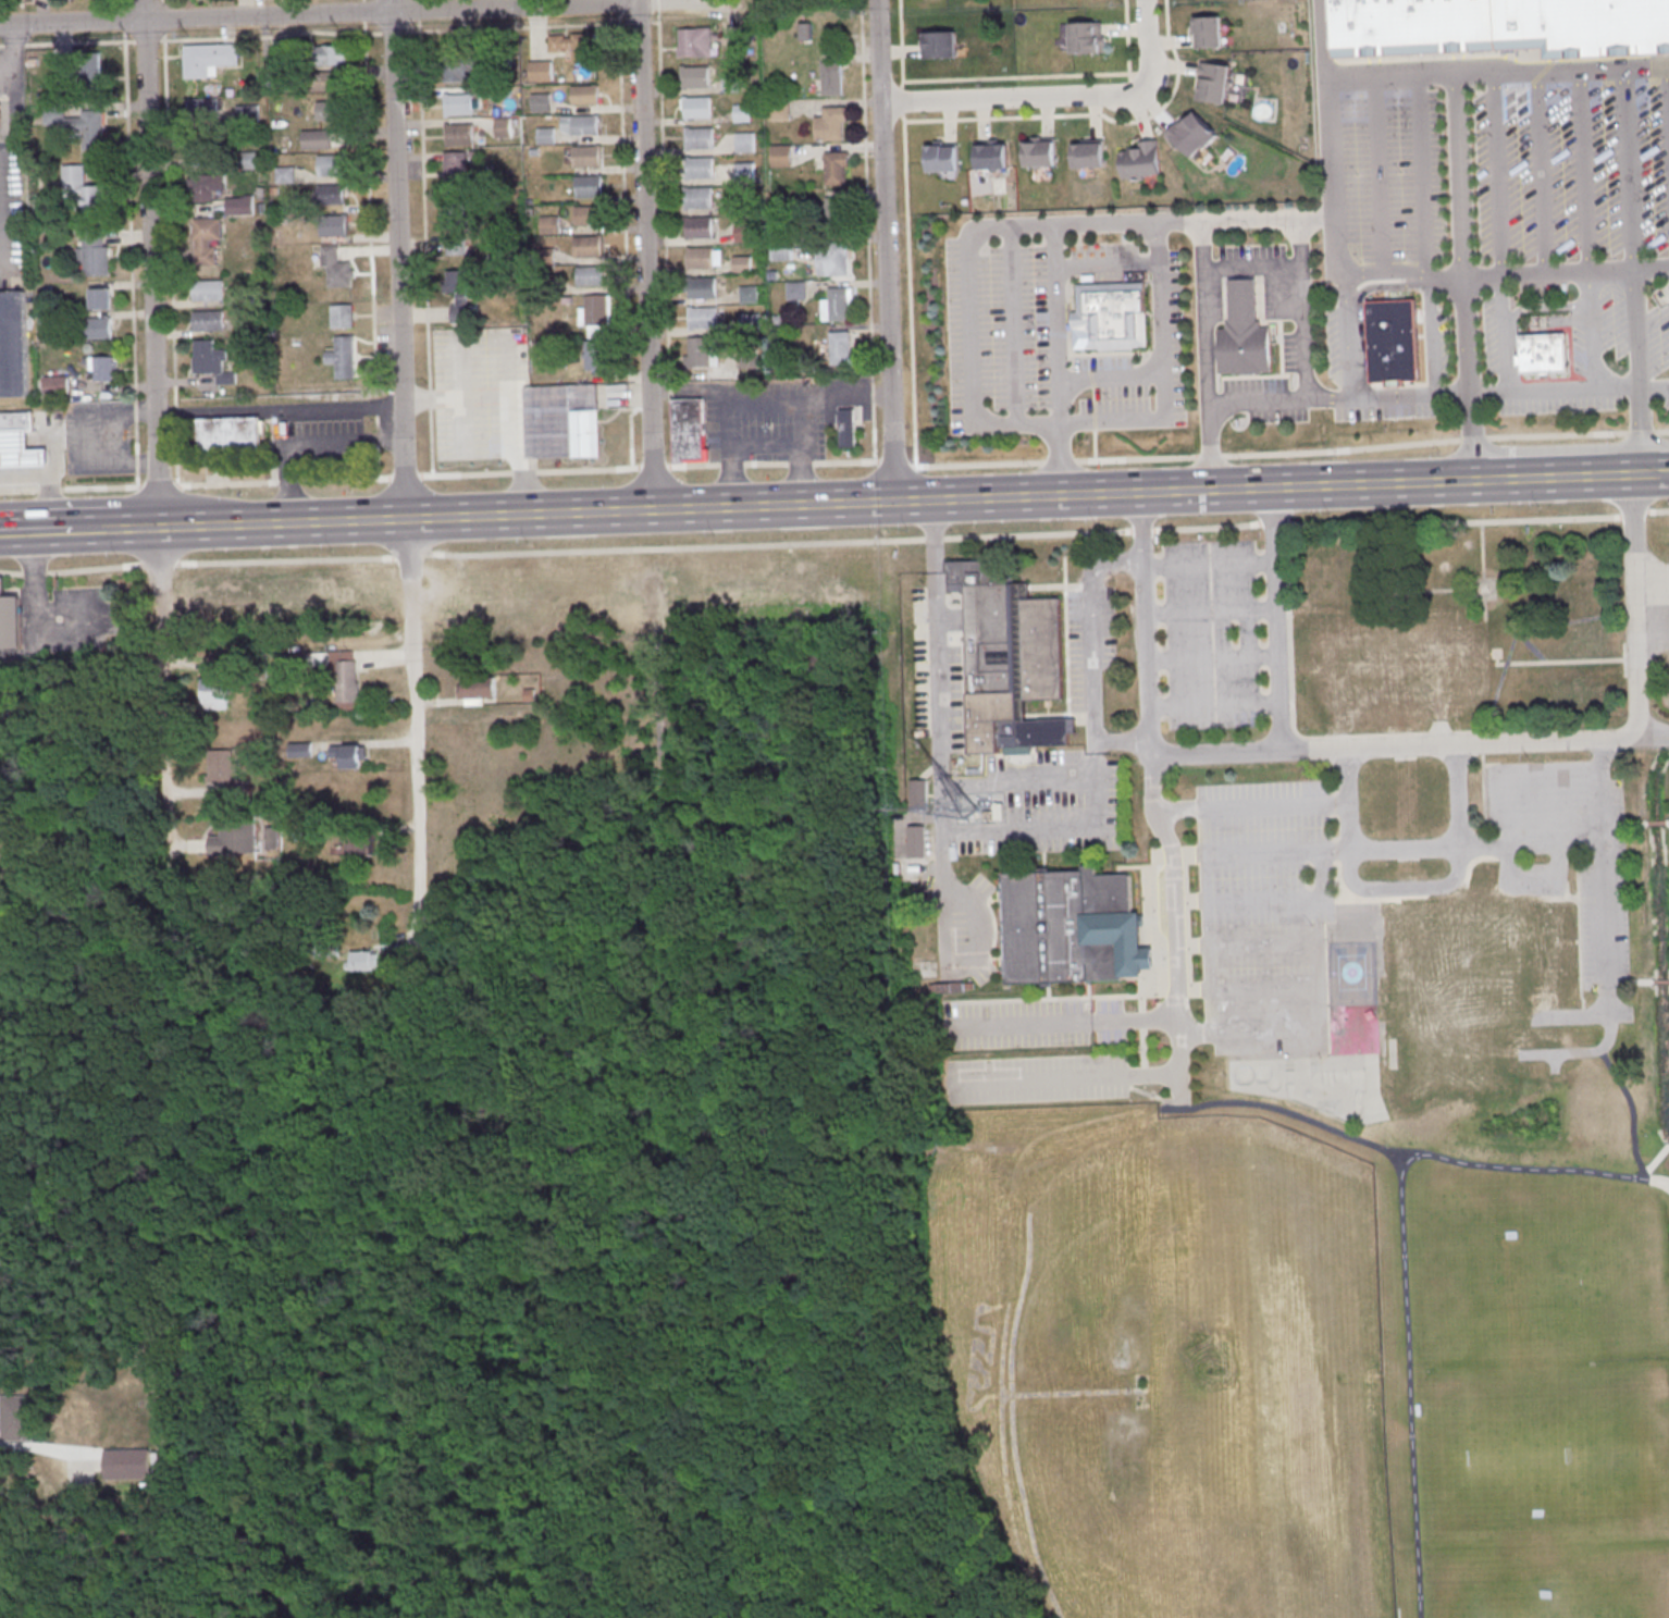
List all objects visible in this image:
building: (41, 0)
road: (124, 0)
road: (668, 0)
road: (658, 5)
road: (245, 8)
road: (619, 8)
road: (162, 9)
road: (320, 13)
road: (655, 23)
road: (639, 24)
road: (625, 25)
road: (1169, 26)
building: (1411, 26)
building: (1584, 27)
road: (520, 28)
building: (1209, 32)
building: (735, 35)
building: (1087, 37)
road: (1325, 40)
road: (1128, 41)
building: (695, 44)
building: (940, 44)
building: (576, 48)
road: (14, 53)
building: (332, 57)
building: (209, 60)
building: (283, 62)
building: (462, 69)
building: (64, 71)
building: (542, 72)
building: (91, 73)
road: (1146, 74)
building: (282, 78)
building: (696, 78)
road: (978, 79)
building: (832, 81)
building: (1213, 82)
building: (323, 83)
building: (733, 85)
road: (902, 85)
road: (1133, 88)
building: (585, 96)
road: (1060, 97)
road: (902, 102)
building: (541, 103)
building: (459, 106)
building: (698, 109)
building: (202, 110)
building: (333, 112)
building: (781, 112)
building: (744, 114)
building: (55, 115)
building: (247, 115)
building: (832, 125)
building: (581, 126)
building: (87, 129)
building: (504, 129)
building: (1192, 135)
building: (460, 136)
building: (546, 137)
building: (701, 139)
building: (318, 141)
building: (746, 144)
building: (207, 145)
building: (1039, 152)
building: (1088, 153)
building: (991, 156)
building: (782, 157)
building: (941, 157)
building: (588, 158)
building: (1140, 159)
building: (247, 161)
building: (332, 166)
building: (837, 169)
road: (1334, 169)
building: (702, 170)
building: (456, 172)
road: (1458, 173)
road: (1541, 173)
building: (746, 174)
road: (1420, 174)
building: (286, 176)
road: (1379, 176)
building: (75, 181)
building: (206, 187)
building: (590, 188)
building: (332, 196)
building: (701, 199)
building: (95, 200)
building: (240, 207)
building: (739, 207)
building: (837, 215)
building: (455, 217)
building: (589, 217)
building: (549, 226)
building: (335, 227)
road: (1298, 227)
building: (701, 230)
road: (868, 232)
building: (746, 234)
road: (425, 237)
building: (94, 239)
road: (666, 239)
building: (207, 242)
road: (171, 243)
building: (456, 247)
road: (626, 247)
building: (589, 248)
building: (783, 249)
road: (887, 250)
road: (647, 255)
building: (330, 257)
building: (547, 257)
road: (398, 259)
building: (702, 260)
building: (95, 261)
building: (833, 261)
road: (152, 262)
building: (743, 264)
road: (1108, 264)
road: (1251, 264)
road: (131, 265)
road: (1566, 271)
building: (590, 275)
building: (341, 276)
building: (456, 287)
building: (548, 287)
building: (704, 289)
building: (209, 292)
building: (798, 292)
road: (910, 294)
building: (750, 295)
building: (250, 297)
building: (101, 301)
building: (838, 307)
building: (598, 311)
building: (461, 316)
building: (1113, 316)
building: (343, 318)
building: (704, 319)
building: (209, 321)
building: (52, 322)
building: (751, 323)
road: (1058, 324)
road: (1012, 325)
road: (972, 326)
building: (97, 329)
building: (597, 332)
building: (1245, 333)
road: (1347, 335)
building: (1393, 341)
building: (14, 345)
building: (841, 350)
building: (700, 354)
building: (1543, 354)
road: (1207, 356)
building: (598, 357)
building: (209, 358)
building: (344, 358)
building: (751, 360)
building: (102, 370)
road: (1636, 371)
road: (1163, 373)
building: (226, 379)
road: (1111, 379)
building: (57, 386)
road: (1526, 393)
road: (1488, 395)
road: (1095, 400)
road: (1258, 400)
road: (766, 406)
road: (277, 409)
parking lot: (762, 420)
road: (1053, 422)
building: (16, 423)
building: (561, 423)
building: (848, 428)
building: (689, 431)
building: (230, 436)
road: (79, 443)
road: (1096, 446)
building: (20, 454)
road: (1291, 454)
road: (845, 464)
road: (766, 465)
road: (801, 465)
road: (897, 465)
road: (693, 466)
road: (732, 466)
road: (654, 468)
road: (589, 471)
road: (523, 473)
road: (1655, 474)
road: (466, 475)
road: (1635, 475)
road: (406, 478)
road: (1553, 479)
road: (46, 480)
road: (195, 485)
road: (1307, 487)
road: (1035, 496)
road: (913, 501)
road: (1657, 510)
road: (1633, 512)
road: (526, 515)
road: (112, 526)
road: (34, 529)
road: (931, 535)
road: (811, 543)
road: (1210, 566)
road: (1634, 606)
road: (1212, 614)
road: (35, 616)
road: (1279, 619)
building: (9, 621)
road: (1146, 625)
parking lot: (1212, 635)
road: (1095, 657)
building: (1007, 658)
road: (1214, 660)
building: (287, 663)
building: (1399, 666)
building: (346, 677)
road: (162, 688)
building: (478, 688)
building: (212, 696)
road: (413, 704)
road: (1216, 705)
road: (1654, 737)
road: (1473, 743)
building: (301, 750)
road: (1229, 753)
building: (349, 756)
road: (1519, 771)
building: (230, 775)
building: (918, 794)
road: (1254, 806)
road: (1557, 807)
building: (272, 837)
building: (235, 839)
building: (360, 843)
road: (1406, 850)
parking lot: (1567, 851)
road: (1604, 876)
road: (1208, 877)
road: (1408, 892)
road: (1319, 901)
parking lot: (1264, 915)
building: (1070, 927)
road: (1176, 930)
park: (1651, 939)
road: (1316, 960)
building: (364, 961)
building: (1457, 961)
park: (1351, 973)
road: (1630, 981)
road: (1660, 983)
road: (1265, 990)
parking lot: (1033, 1024)
road: (1065, 1025)
park: (1324, 1072)
parking lot: (1038, 1079)
road: (1066, 1080)
road: (1632, 1111)
road: (1421, 1152)
road: (1656, 1162)
park: (1536, 1251)
road: (1009, 1305)
park: (1294, 1369)
road: (1411, 1384)
road: (1065, 1395)
road: (1013, 1417)
building: (16, 1418)
park: (1573, 1453)
building: (127, 1463)
park: (1631, 1606)
park: (1507, 1611)

